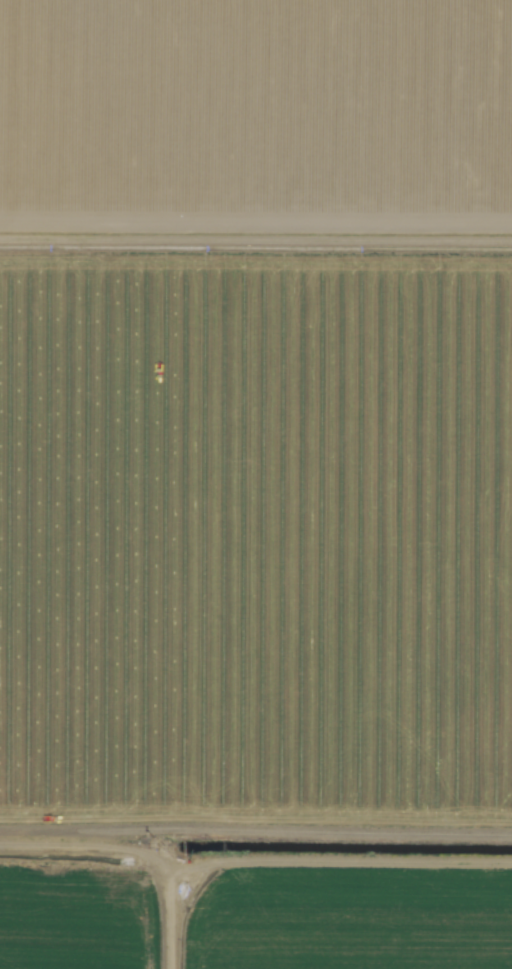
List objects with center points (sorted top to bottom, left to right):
road: (139, 844)

